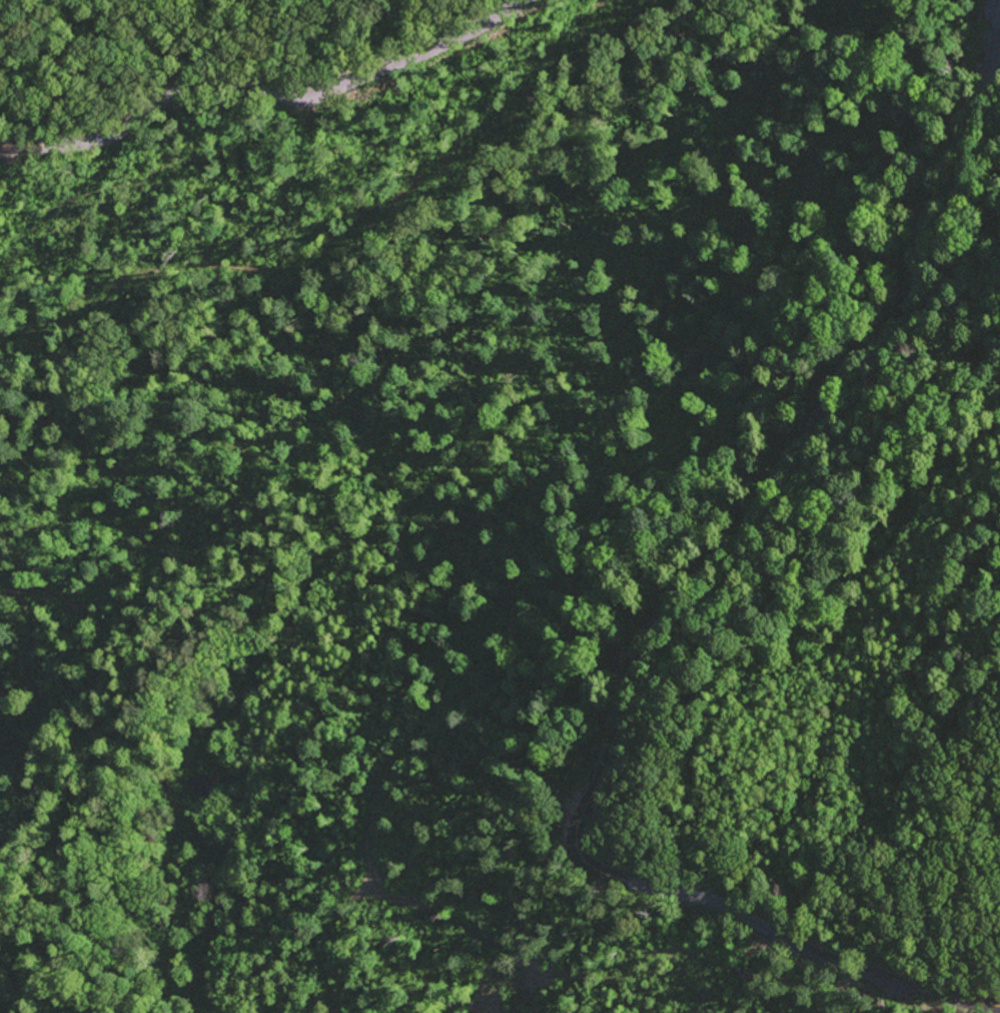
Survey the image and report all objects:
road: (266, 91)
road: (660, 606)

